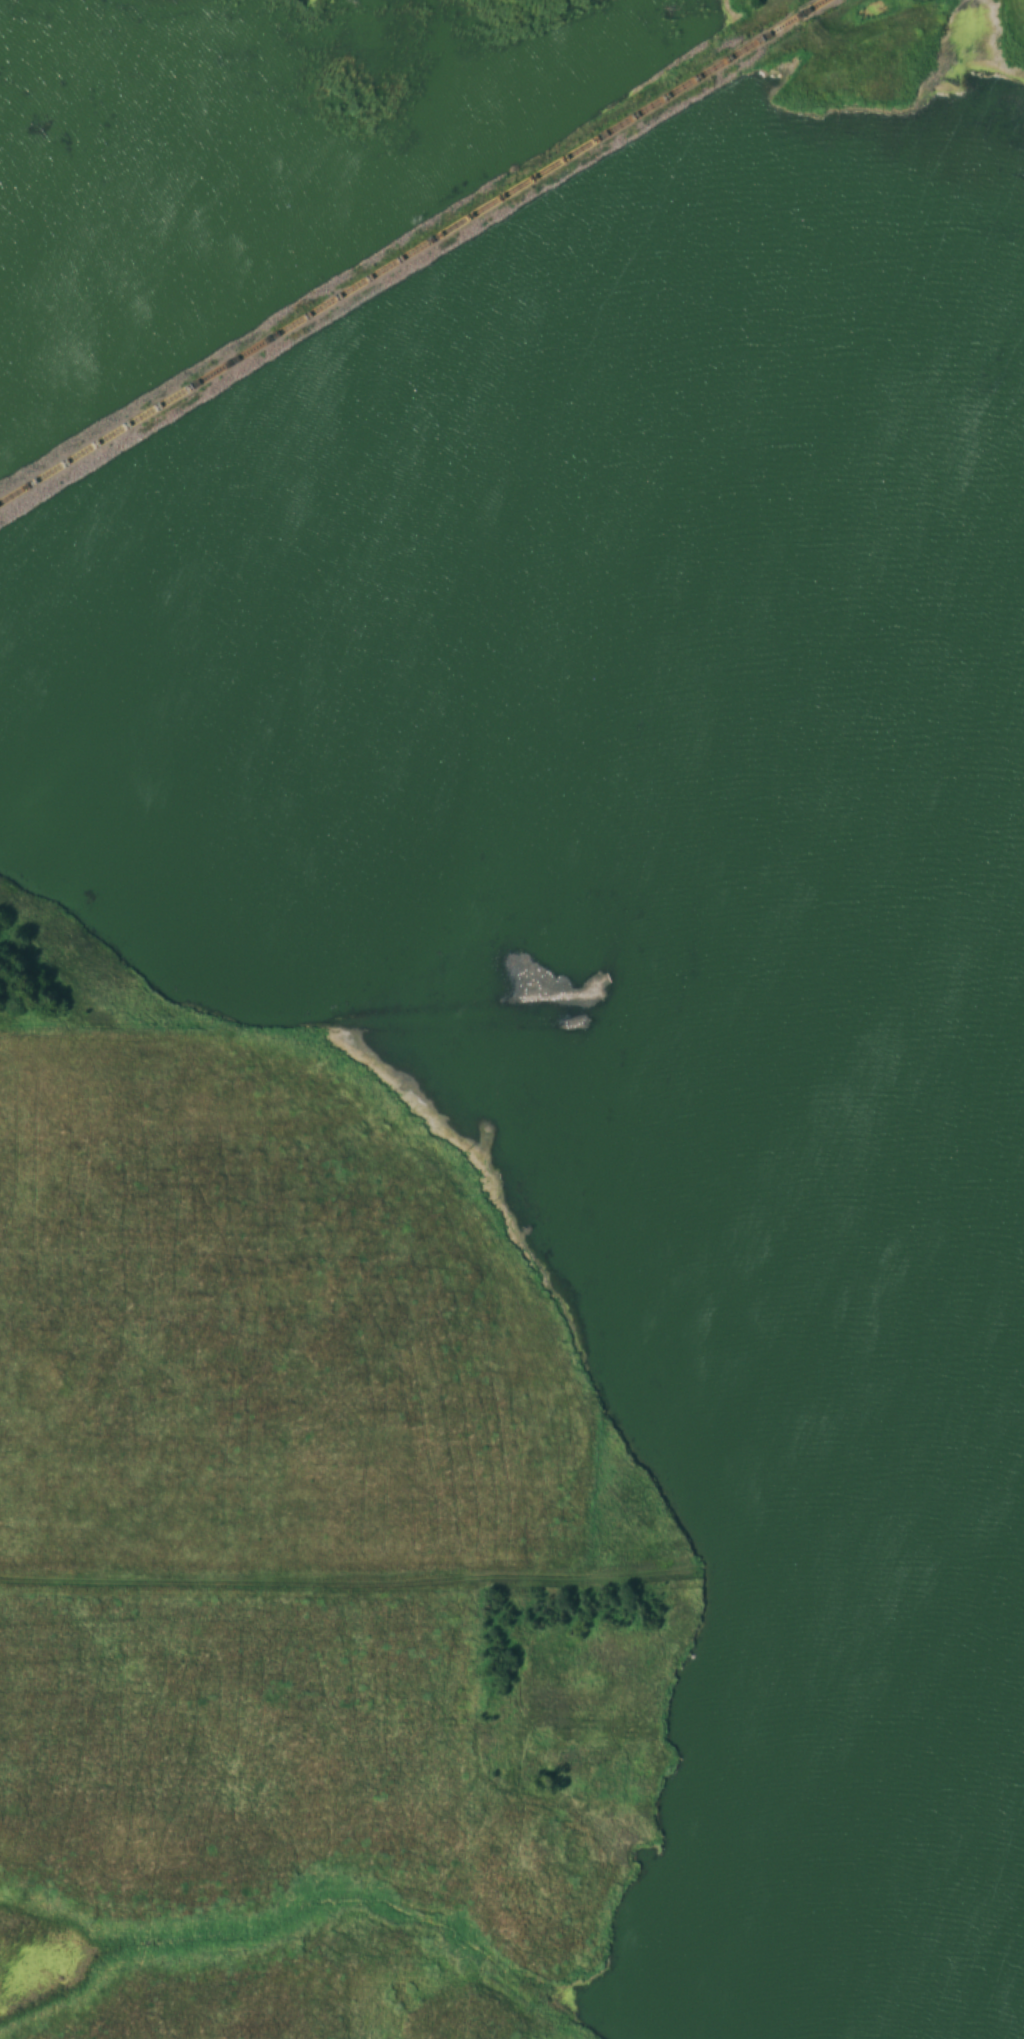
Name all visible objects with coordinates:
railway: (414, 253)
road: (308, 1572)

